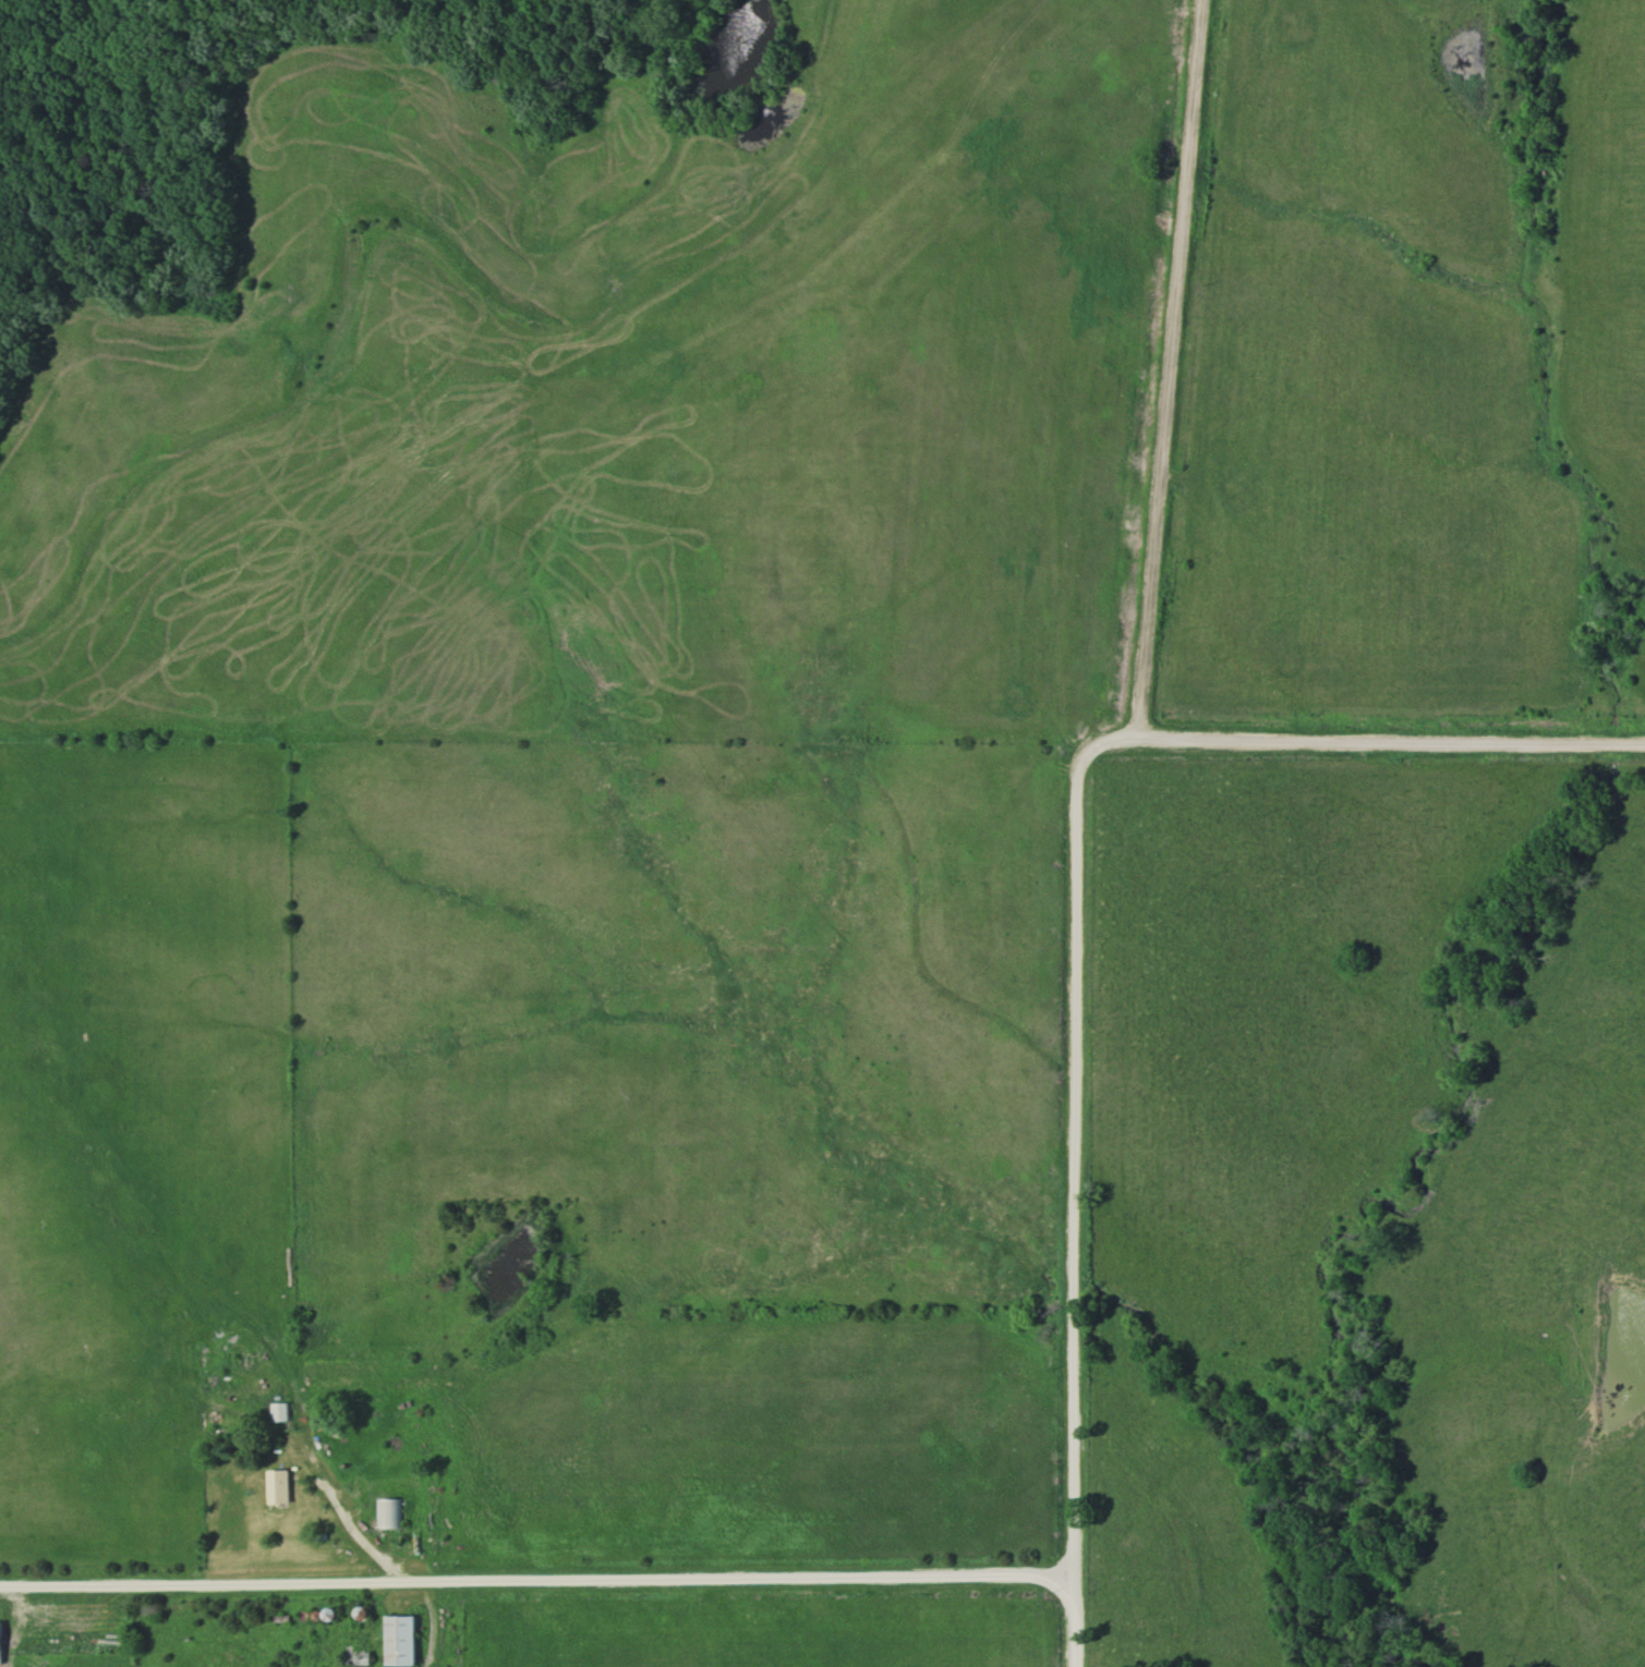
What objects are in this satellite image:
road: (1172, 368)
road: (1132, 738)
road: (1212, 739)
road: (1455, 741)
road: (1077, 1202)
building: (277, 1412)
building: (273, 1486)
building: (386, 1512)
road: (537, 1580)
building: (395, 1639)

